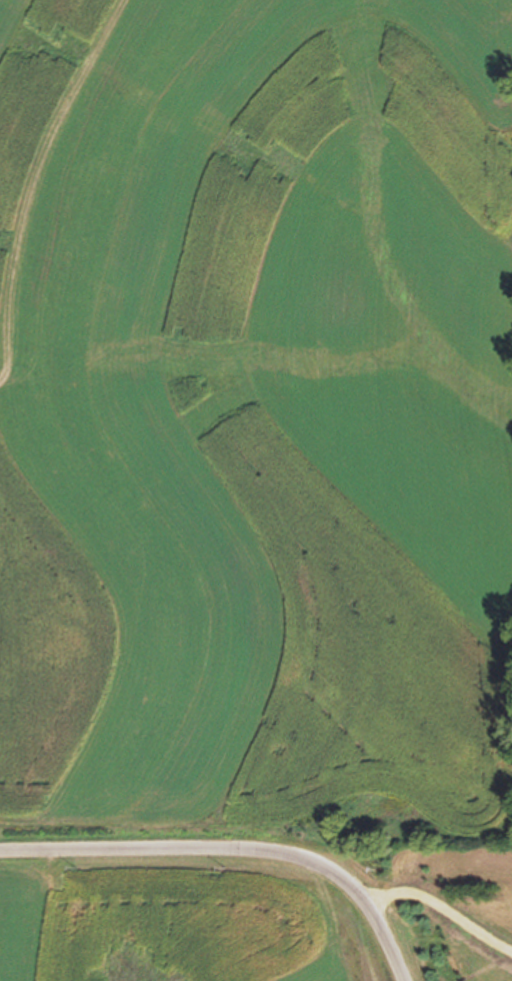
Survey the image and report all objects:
road: (234, 849)

